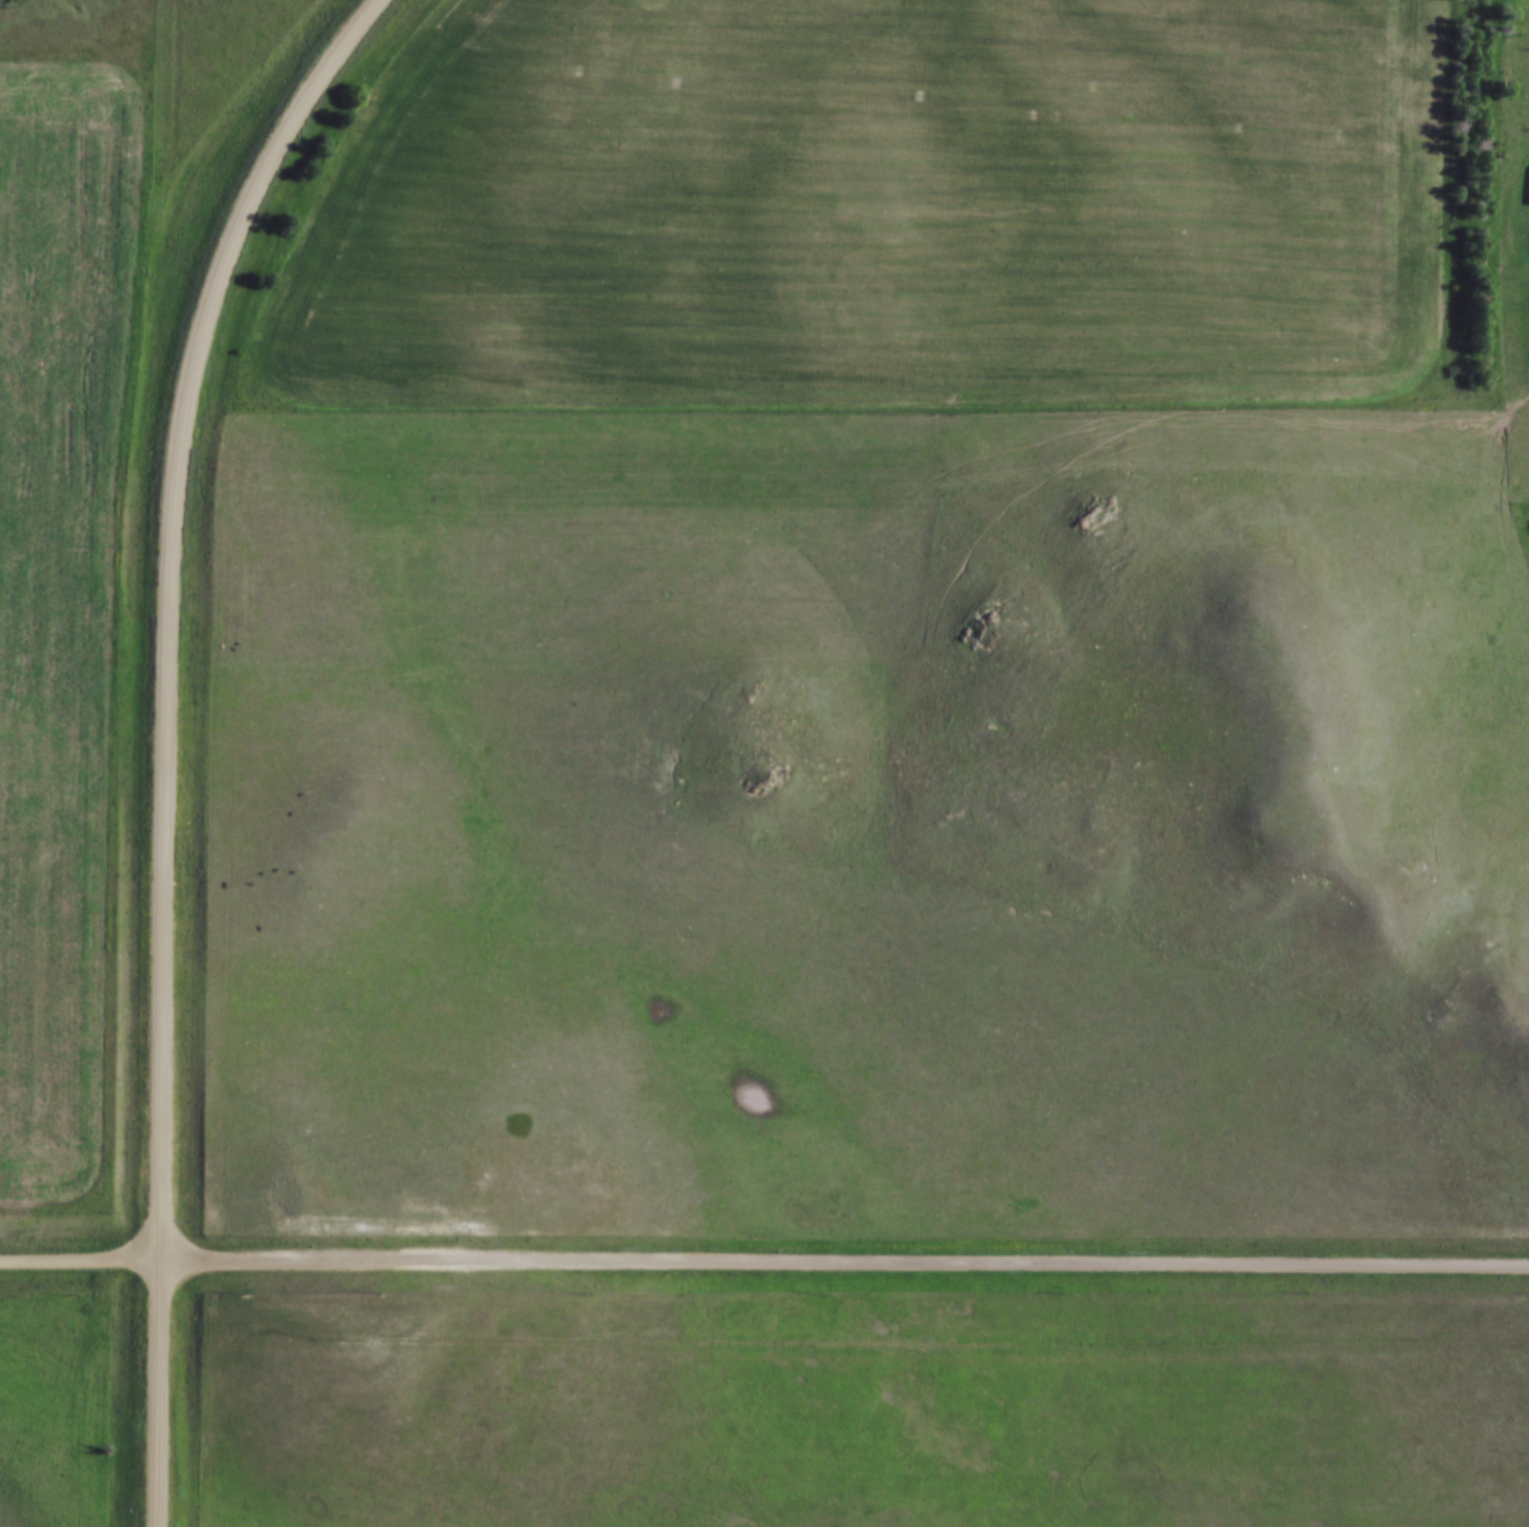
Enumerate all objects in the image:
road: (165, 739)
road: (845, 1257)
road: (80, 1258)

